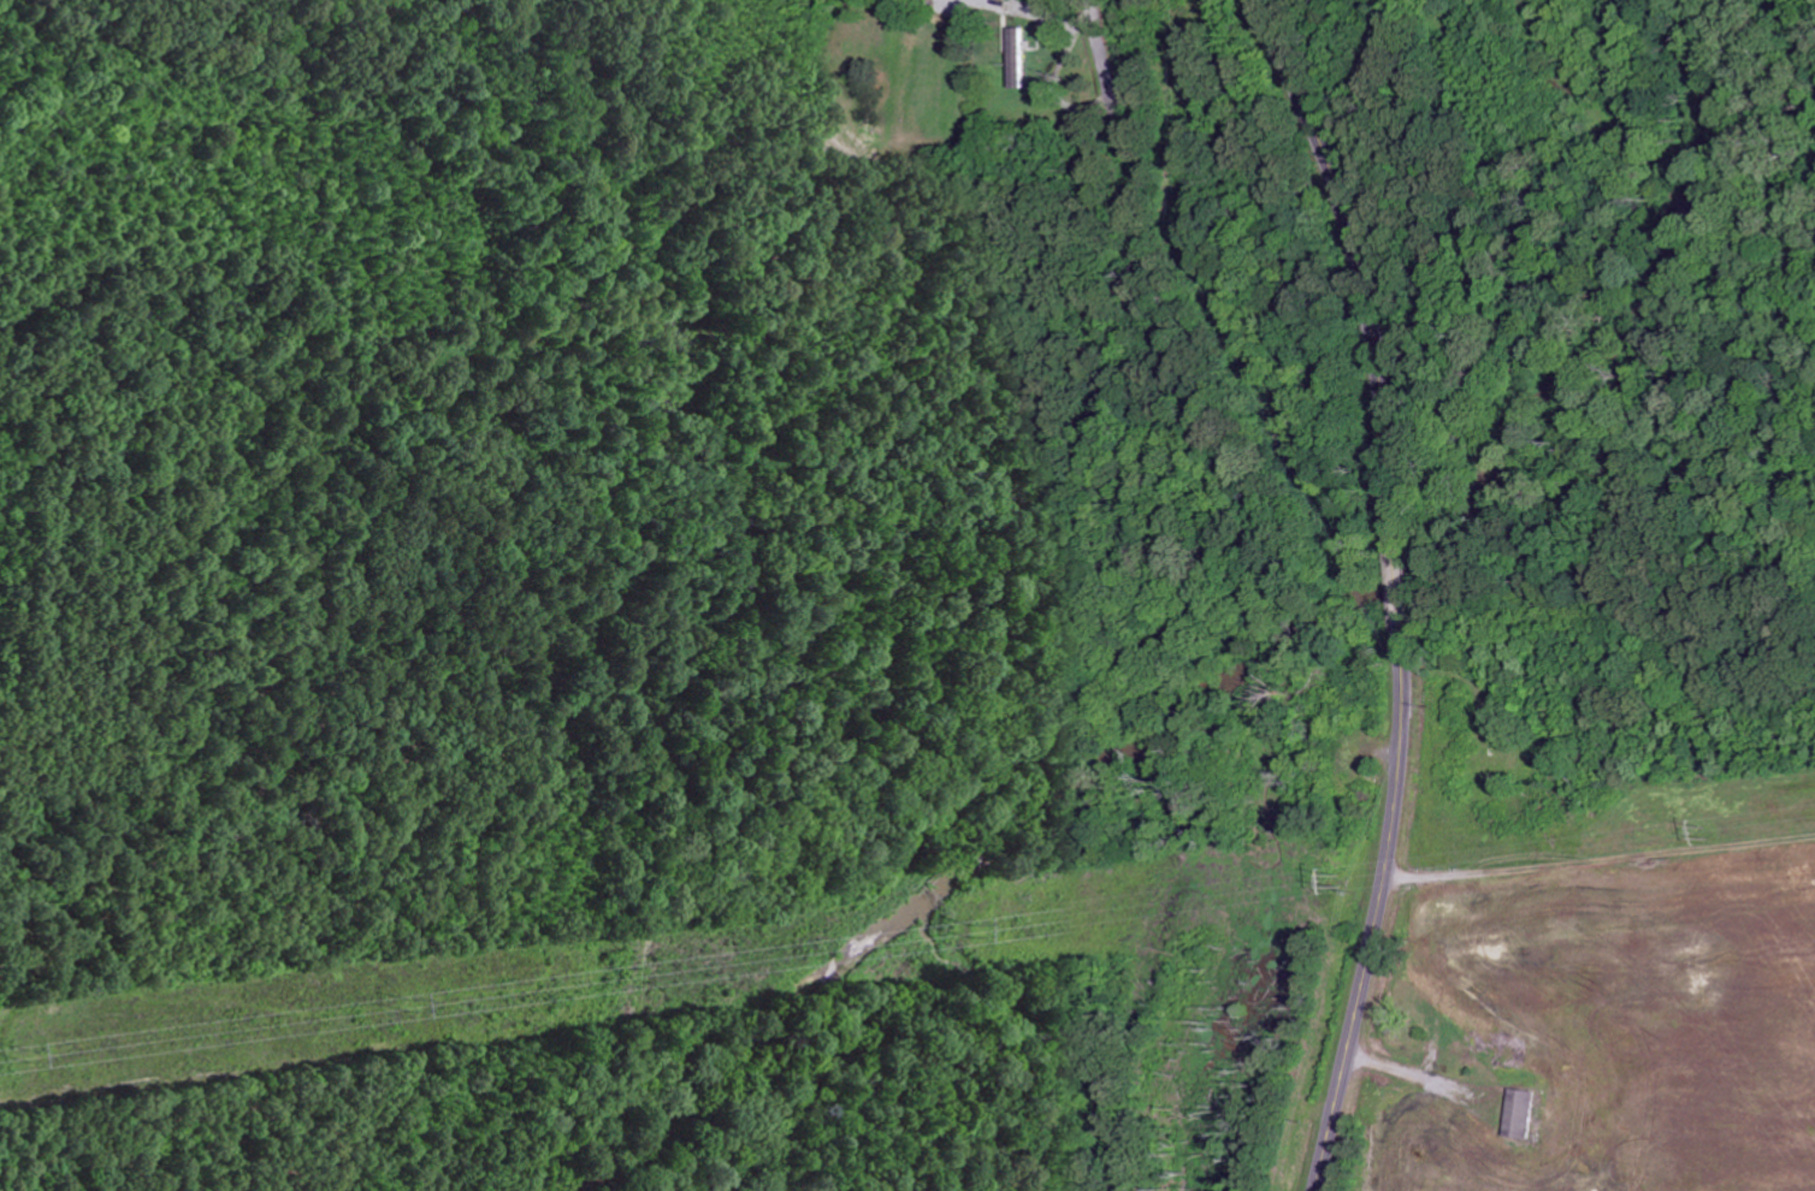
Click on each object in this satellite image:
road: (1101, 54)
building: (1021, 58)
road: (1403, 588)
road: (1601, 866)
power tower: (965, 928)
power tower: (409, 999)
power tower: (30, 1050)
building: (1523, 1113)

